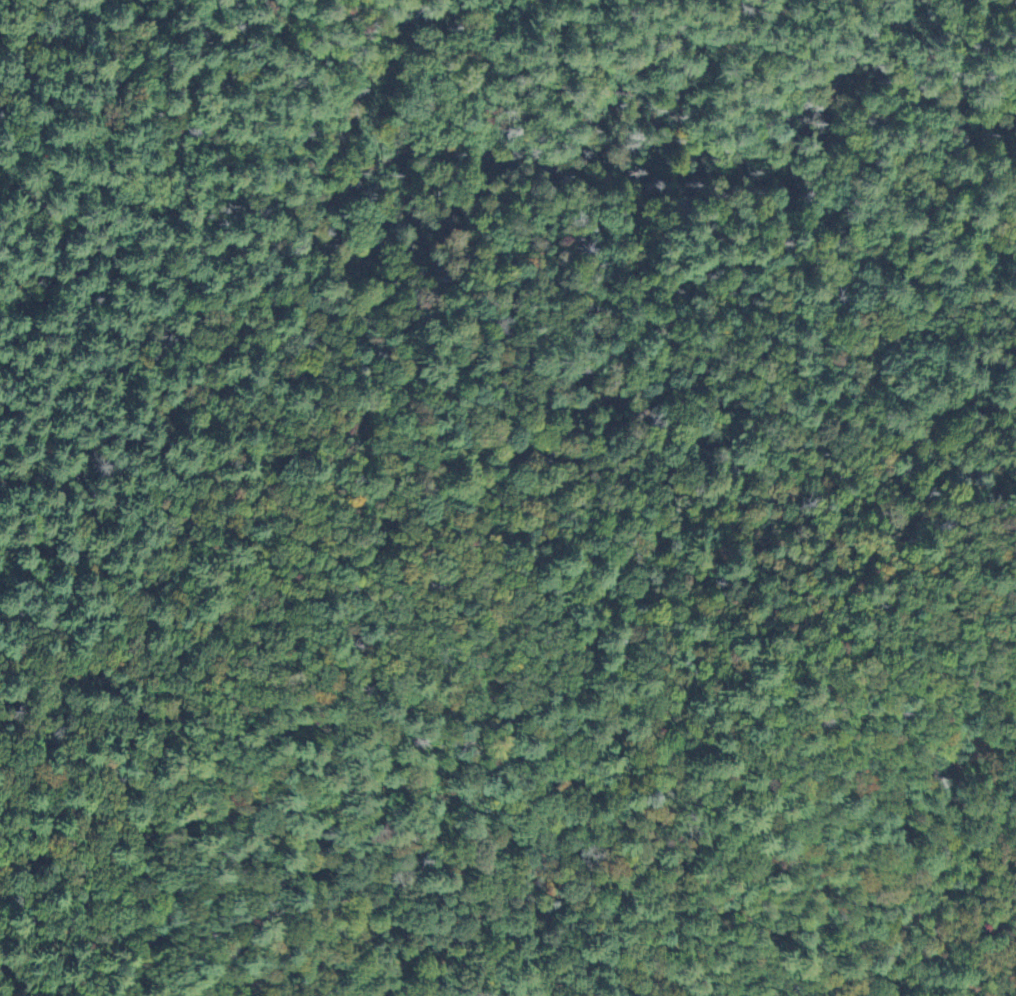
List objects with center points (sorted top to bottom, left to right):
road: (526, 657)

